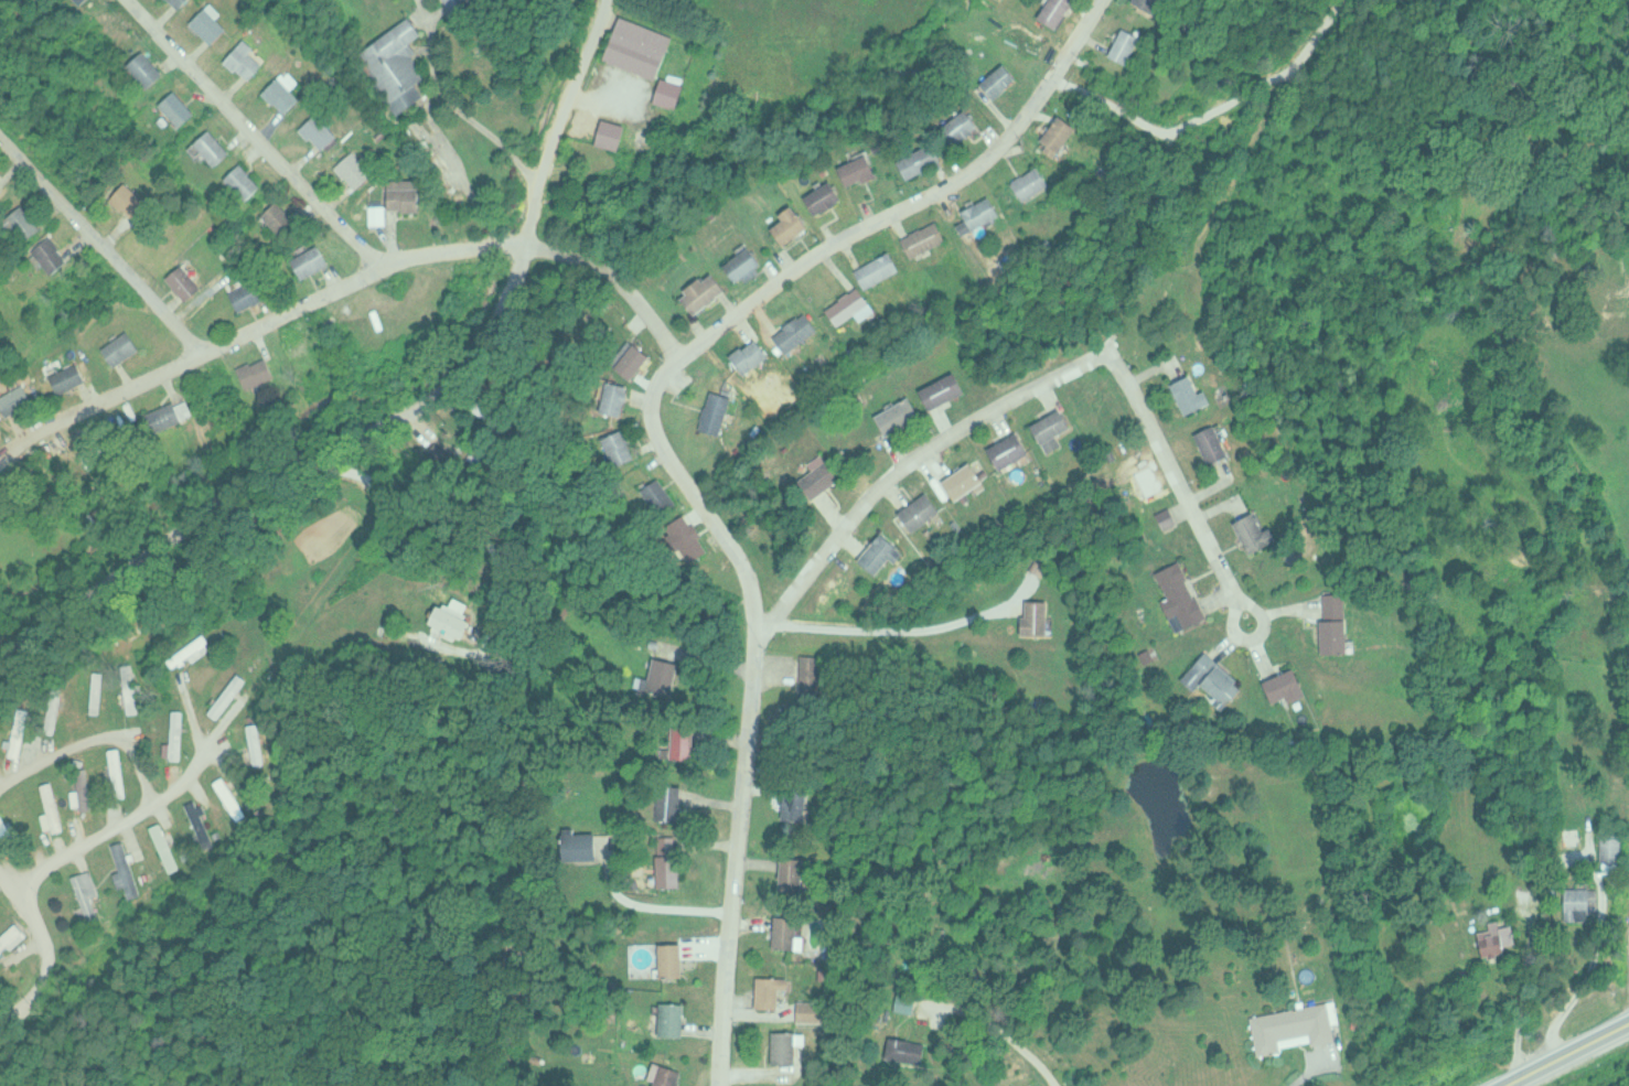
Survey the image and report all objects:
building: (181, 2)
building: (187, 2)
building: (465, 3)
building: (1157, 3)
building: (1062, 11)
building: (218, 23)
building: (1133, 44)
building: (646, 46)
building: (254, 58)
building: (401, 65)
building: (154, 67)
building: (1005, 79)
building: (290, 92)
building: (676, 93)
road: (456, 103)
building: (185, 108)
road: (554, 121)
building: (968, 125)
building: (330, 130)
building: (620, 132)
road: (253, 135)
building: (1064, 135)
building: (219, 147)
building: (925, 160)
building: (363, 169)
building: (864, 170)
building: (251, 181)
building: (1037, 183)
building: (4, 190)
building: (411, 194)
building: (830, 197)
building: (138, 200)
building: (384, 214)
building: (986, 214)
building: (288, 218)
building: (33, 223)
building: (796, 225)
road: (393, 233)
building: (930, 238)
road: (99, 245)
building: (60, 254)
building: (318, 260)
building: (749, 264)
building: (885, 269)
building: (192, 281)
road: (773, 281)
building: (709, 292)
building: (256, 293)
building: (855, 305)
road: (291, 309)
road: (642, 312)
building: (801, 331)
building: (128, 347)
building: (757, 355)
building: (639, 359)
building: (262, 372)
building: (75, 376)
building: (950, 389)
building: (1198, 394)
building: (620, 397)
building: (23, 398)
building: (724, 411)
building: (175, 412)
building: (904, 416)
building: (1060, 427)
building: (1221, 443)
building: (625, 447)
building: (1018, 450)
road: (907, 461)
building: (830, 471)
road: (293, 472)
building: (972, 480)
road: (1179, 482)
building: (664, 495)
building: (929, 510)
road: (333, 516)
building: (1173, 517)
building: (1166, 518)
building: (1264, 531)
building: (698, 541)
building: (889, 552)
building: (1188, 596)
building: (1042, 616)
building: (459, 621)
building: (1342, 624)
road: (891, 637)
building: (195, 650)
building: (665, 678)
building: (1220, 680)
building: (1295, 687)
building: (130, 699)
building: (138, 699)
building: (18, 731)
building: (25, 731)
building: (181, 736)
building: (174, 738)
road: (95, 742)
building: (254, 743)
building: (261, 743)
building: (686, 743)
building: (122, 773)
building: (116, 774)
building: (676, 803)
building: (56, 804)
building: (802, 804)
building: (50, 805)
building: (240, 806)
building: (233, 807)
building: (205, 822)
building: (197, 824)
building: (588, 846)
building: (163, 847)
building: (171, 847)
building: (1618, 847)
road: (731, 859)
building: (121, 861)
building: (129, 861)
road: (50, 867)
building: (676, 870)
building: (799, 873)
road: (7, 881)
building: (94, 884)
road: (655, 904)
building: (1587, 904)
building: (793, 932)
building: (13, 938)
building: (1504, 938)
building: (679, 958)
building: (779, 989)
building: (912, 1002)
building: (817, 1010)
building: (679, 1018)
building: (1304, 1026)
road: (1007, 1034)
building: (793, 1046)
building: (914, 1050)
road: (1564, 1053)
building: (674, 1075)

